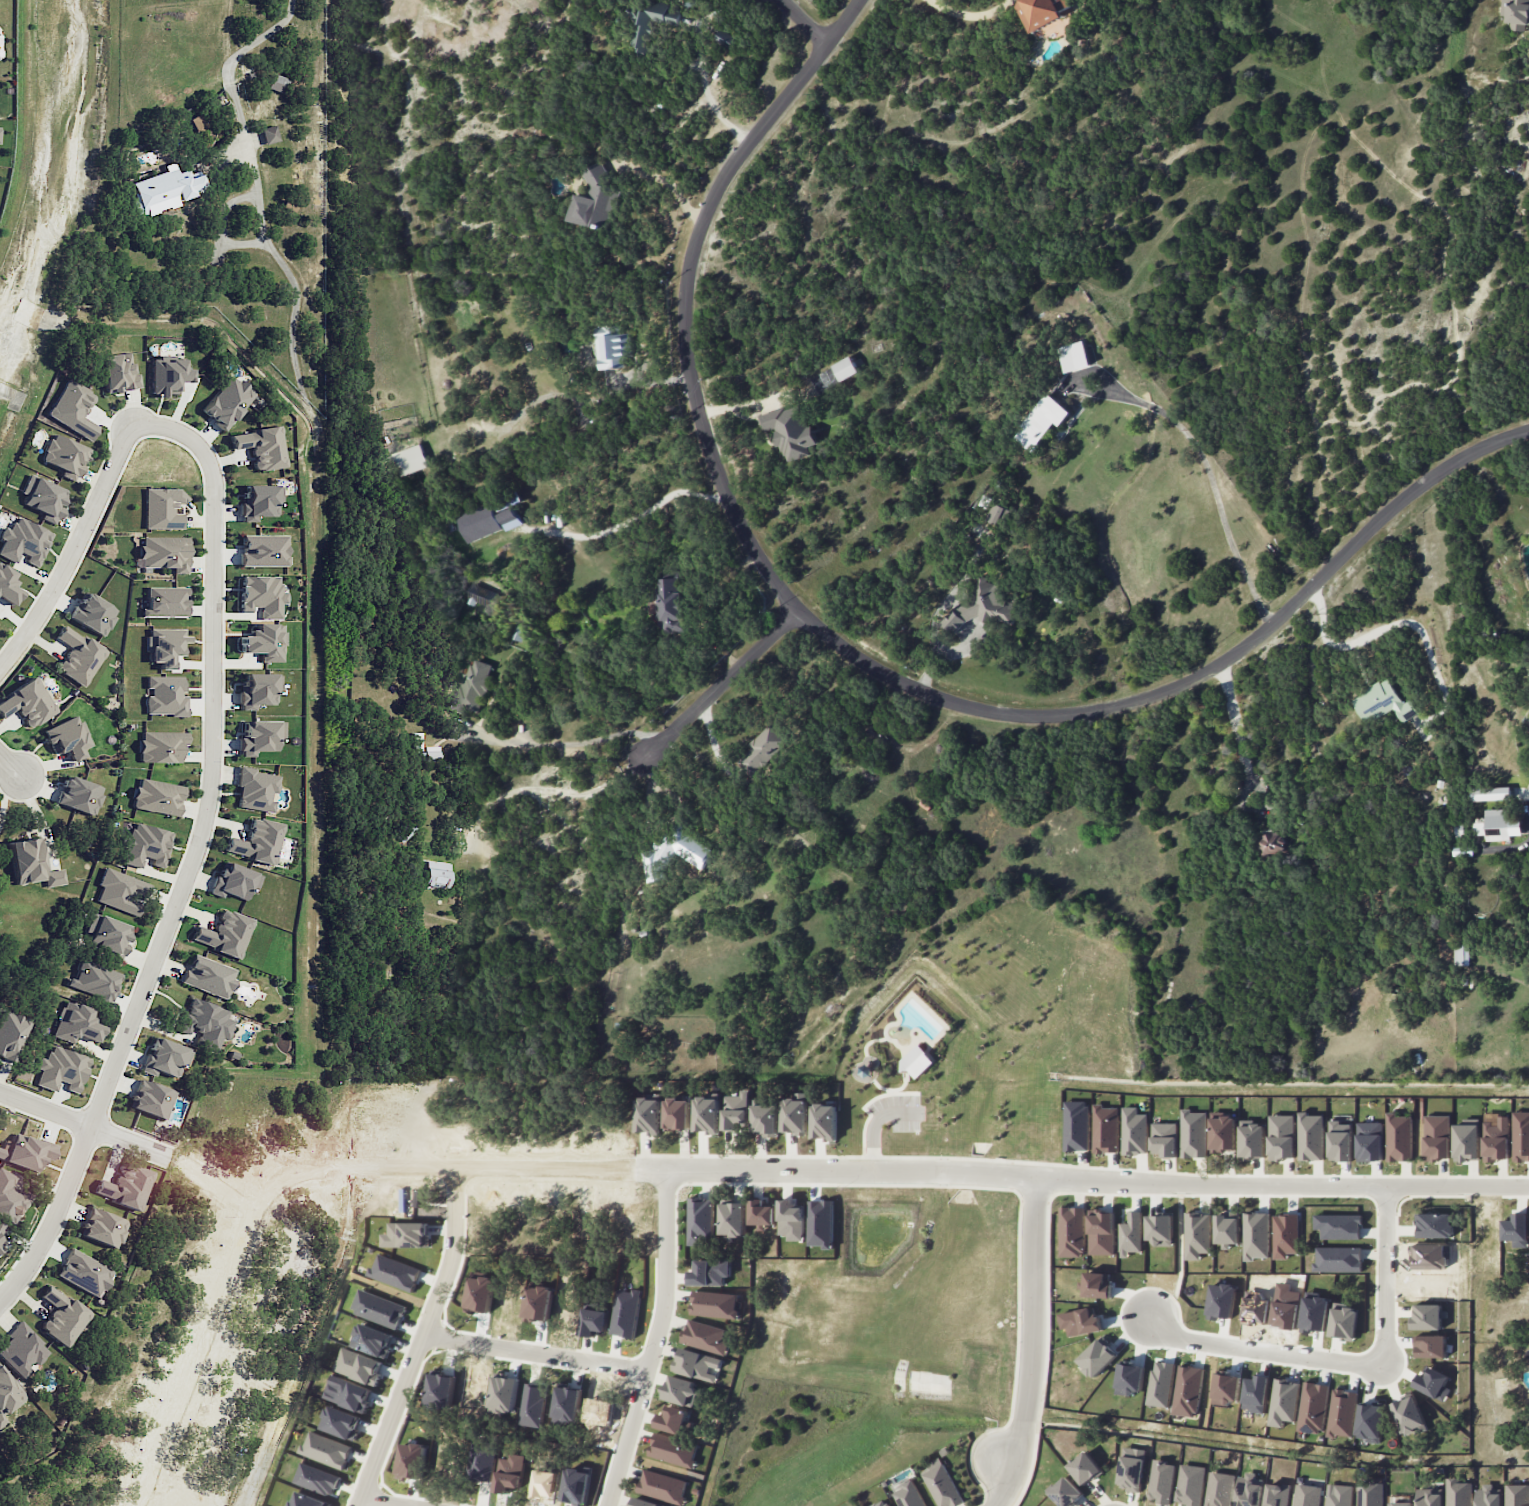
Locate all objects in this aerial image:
building: (1042, 12)
building: (1516, 14)
road: (806, 22)
building: (651, 23)
road: (227, 67)
building: (277, 83)
road: (715, 109)
building: (201, 128)
building: (269, 134)
road: (665, 182)
building: (164, 189)
building: (595, 199)
building: (613, 347)
building: (1074, 356)
building: (845, 368)
building: (118, 372)
building: (167, 375)
building: (227, 402)
building: (73, 408)
building: (1042, 422)
building: (791, 431)
building: (261, 447)
building: (64, 456)
building: (408, 460)
road: (1213, 482)
building: (43, 497)
building: (260, 502)
building: (163, 508)
building: (998, 515)
building: (509, 519)
building: (479, 522)
building: (24, 541)
building: (264, 550)
road: (74, 551)
building: (164, 552)
building: (8, 586)
building: (261, 594)
building: (481, 595)
building: (164, 602)
building: (671, 605)
building: (980, 606)
building: (92, 613)
road: (1397, 624)
building: (264, 642)
building: (164, 646)
building: (78, 656)
road: (860, 660)
road: (720, 684)
building: (259, 689)
building: (471, 689)
building: (165, 696)
building: (1382, 702)
building: (27, 703)
building: (261, 736)
building: (66, 738)
building: (161, 746)
building: (762, 749)
building: (431, 752)
road: (12, 768)
road: (1248, 768)
building: (256, 789)
building: (1490, 793)
building: (79, 795)
building: (157, 797)
building: (1500, 824)
building: (1459, 830)
building: (257, 841)
building: (1272, 844)
building: (145, 845)
building: (675, 852)
road: (197, 856)
building: (31, 864)
building: (434, 874)
building: (235, 881)
building: (120, 891)
building: (224, 934)
building: (106, 935)
building: (1462, 954)
building: (208, 976)
building: (92, 980)
building: (205, 1022)
building: (74, 1023)
building: (11, 1034)
building: (164, 1058)
building: (916, 1061)
building: (60, 1069)
road: (893, 1089)
road: (892, 1091)
building: (150, 1099)
road: (864, 1105)
building: (736, 1110)
parking lot: (897, 1111)
building: (648, 1114)
building: (677, 1114)
building: (707, 1115)
building: (795, 1115)
building: (765, 1119)
road: (876, 1121)
building: (824, 1122)
road: (87, 1125)
building: (1076, 1125)
building: (1105, 1129)
building: (1134, 1131)
building: (1223, 1133)
building: (1194, 1134)
building: (1521, 1136)
building: (1282, 1137)
building: (1311, 1137)
building: (1399, 1137)
building: (1437, 1137)
building: (1164, 1138)
building: (1252, 1140)
building: (1496, 1140)
building: (1340, 1141)
building: (1370, 1141)
building: (1466, 1142)
building: (26, 1152)
road: (828, 1156)
road: (872, 1157)
road: (993, 1160)
road: (1010, 1175)
road: (1081, 1179)
road: (282, 1183)
road: (216, 1184)
building: (125, 1186)
building: (10, 1198)
road: (1033, 1201)
building: (761, 1213)
building: (733, 1219)
building: (700, 1220)
building: (1435, 1225)
building: (1339, 1226)
building: (102, 1228)
building: (1227, 1228)
building: (1, 1229)
building: (1160, 1229)
building: (1516, 1229)
building: (1071, 1231)
building: (1101, 1232)
building: (1131, 1234)
building: (1197, 1235)
building: (1256, 1235)
building: (1285, 1235)
building: (1, 1246)
building: (1339, 1259)
building: (83, 1272)
building: (709, 1272)
road: (1018, 1272)
road: (1389, 1278)
building: (1098, 1284)
building: (714, 1304)
building: (61, 1316)
road: (1034, 1322)
building: (1082, 1322)
building: (1344, 1322)
road: (1046, 1327)
building: (705, 1336)
road: (421, 1340)
road: (654, 1340)
building: (1430, 1346)
building: (21, 1350)
road: (1266, 1350)
road: (535, 1352)
building: (1097, 1357)
building: (697, 1364)
building: (1161, 1383)
building: (1227, 1388)
building: (679, 1390)
building: (1188, 1391)
building: (1256, 1393)
building: (7, 1394)
building: (1284, 1402)
building: (1313, 1407)
building: (1342, 1413)
building: (1408, 1414)
building: (671, 1418)
building: (1371, 1422)
building: (673, 1451)
road: (1005, 1462)
building: (1085, 1468)
building: (1132, 1468)
building: (1161, 1481)
building: (941, 1484)
building: (1190, 1485)
building: (662, 1486)
road: (1006, 1486)
building: (1219, 1489)
building: (1066, 1492)
building: (1371, 1492)
building: (1458, 1492)
building: (908, 1494)
building: (1277, 1494)
building: (1307, 1495)
building: (1339, 1495)
building: (1517, 1495)
building: (1488, 1496)
building: (1430, 1497)
road: (385, 1502)
building: (645, 1502)
building: (882, 1503)
building: (1401, 1504)

